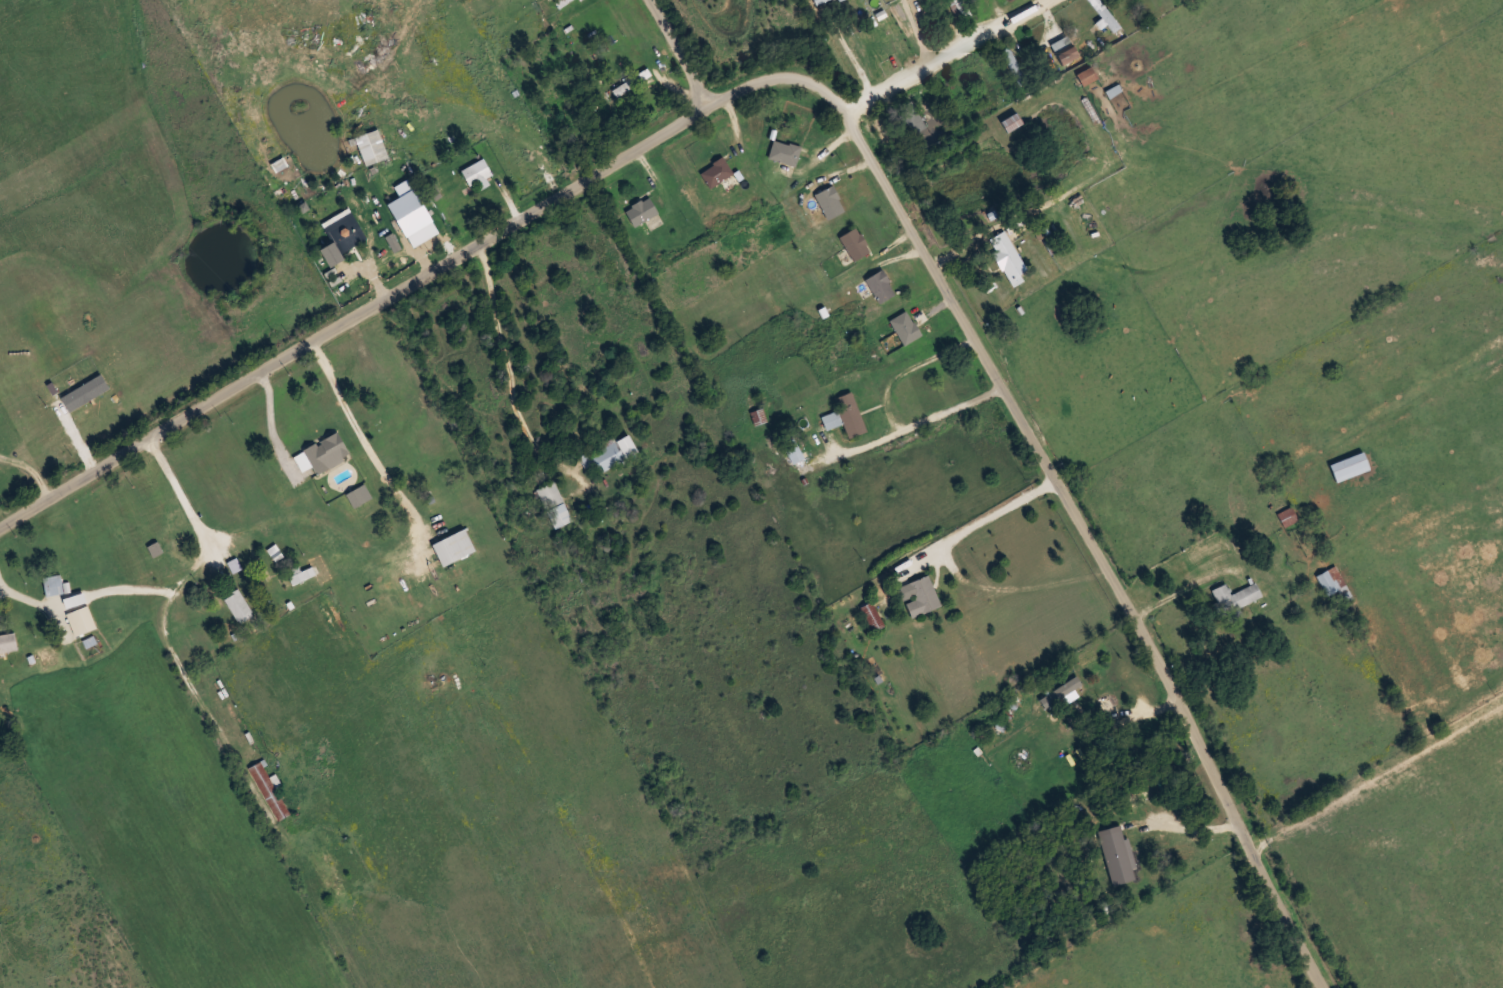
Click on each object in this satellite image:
building: (817, 1)
building: (562, 3)
building: (959, 4)
building: (1105, 14)
building: (1064, 49)
road: (675, 51)
road: (944, 56)
building: (1014, 66)
building: (1087, 76)
building: (631, 82)
building: (911, 116)
road: (850, 120)
building: (1012, 122)
building: (371, 147)
building: (784, 152)
building: (716, 172)
building: (477, 174)
building: (830, 202)
building: (641, 210)
building: (343, 232)
building: (855, 244)
building: (1007, 257)
building: (880, 286)
building: (905, 327)
road: (644, 350)
building: (846, 416)
building: (793, 450)
building: (613, 453)
building: (323, 454)
building: (1349, 467)
building: (554, 504)
building: (454, 547)
building: (53, 585)
building: (1334, 586)
building: (921, 595)
building: (1234, 597)
building: (238, 606)
building: (872, 616)
building: (81, 620)
building: (7, 642)
building: (269, 790)
building: (1121, 851)
building: (329, 874)

